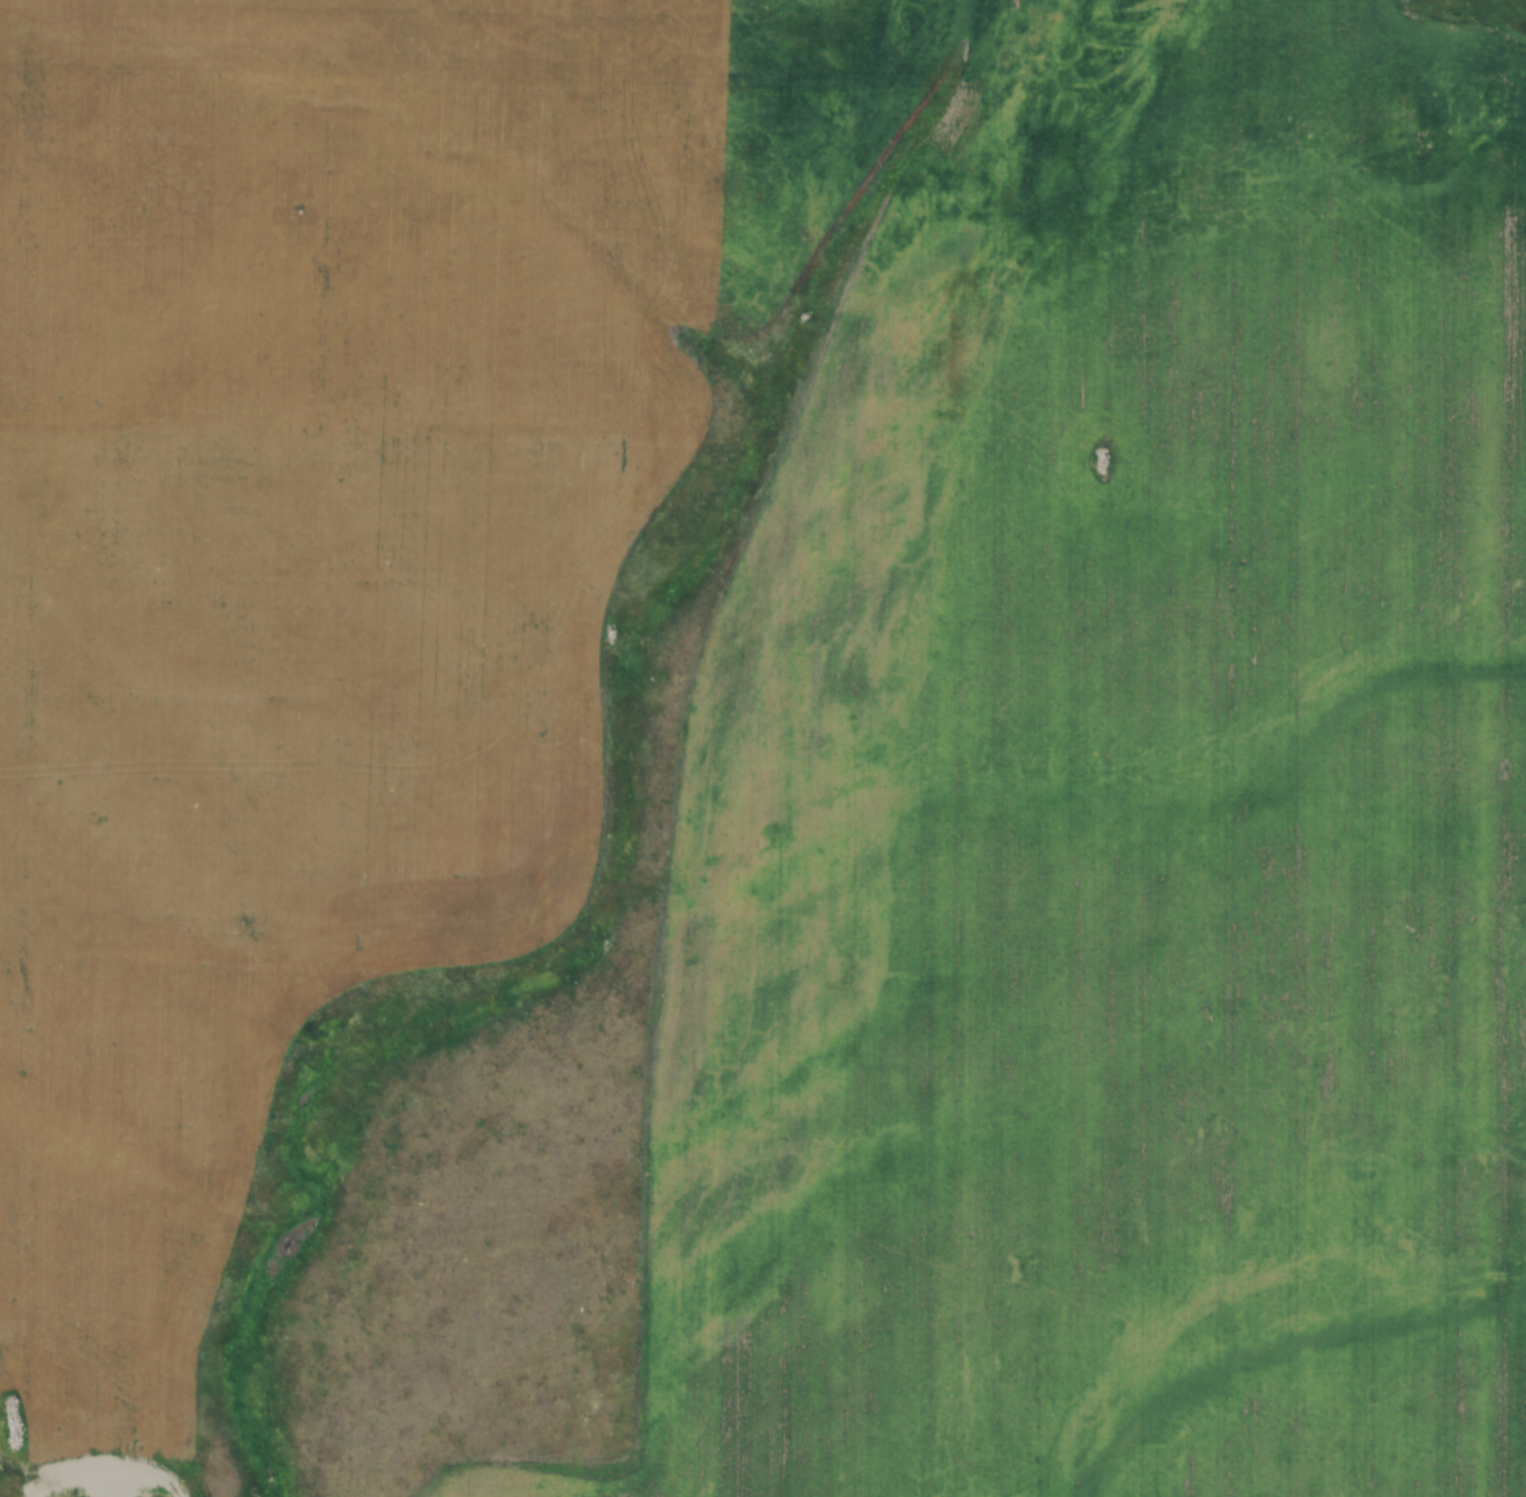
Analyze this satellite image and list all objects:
quarry: (89, 1477)

